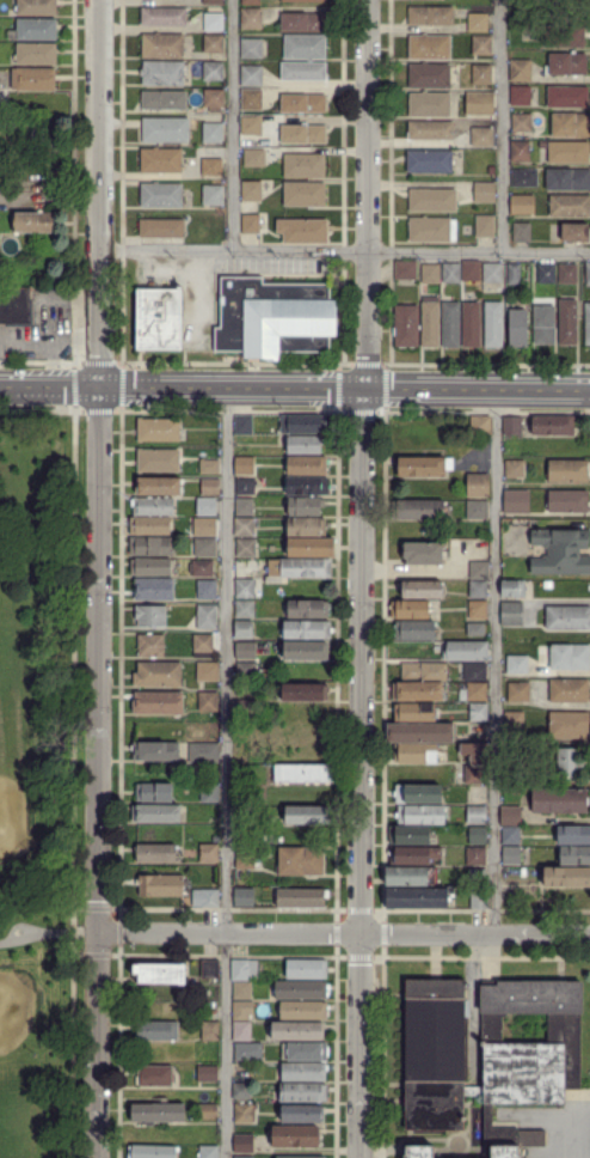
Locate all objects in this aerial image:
building: (303, 0)
building: (213, 1)
building: (251, 1)
building: (36, 7)
building: (165, 16)
building: (431, 16)
building: (251, 18)
building: (214, 22)
building: (303, 22)
building: (478, 22)
building: (35, 29)
building: (564, 36)
building: (214, 43)
building: (481, 44)
building: (162, 45)
building: (305, 47)
building: (430, 47)
building: (252, 48)
building: (36, 54)
building: (567, 62)
building: (521, 69)
building: (213, 71)
building: (303, 71)
building: (162, 72)
building: (481, 73)
building: (251, 75)
building: (429, 75)
building: (35, 78)
building: (521, 95)
building: (567, 96)
building: (214, 98)
building: (252, 98)
building: (164, 99)
building: (479, 102)
building: (305, 103)
building: (430, 104)
building: (521, 122)
building: (251, 123)
building: (571, 123)
road: (233, 124)
road: (502, 126)
building: (165, 129)
building: (431, 129)
building: (213, 132)
building: (303, 133)
building: (481, 135)
building: (521, 150)
building: (569, 151)
building: (19, 156)
building: (253, 157)
building: (161, 159)
building: (430, 160)
building: (211, 165)
building: (305, 165)
building: (492, 170)
building: (524, 177)
building: (569, 178)
building: (252, 190)
building: (484, 191)
road: (99, 193)
building: (161, 194)
building: (213, 194)
building: (305, 194)
road: (365, 194)
building: (432, 200)
building: (523, 203)
building: (570, 205)
building: (33, 221)
building: (251, 224)
building: (485, 225)
building: (162, 227)
building: (432, 228)
building: (303, 230)
building: (522, 232)
building: (576, 232)
road: (344, 250)
building: (406, 269)
building: (472, 269)
building: (430, 273)
building: (451, 273)
building: (492, 273)
building: (514, 273)
building: (547, 273)
building: (569, 273)
building: (588, 273)
building: (14, 304)
building: (274, 316)
building: (159, 318)
building: (569, 321)
building: (430, 322)
building: (545, 322)
building: (588, 323)
building: (451, 324)
building: (472, 324)
building: (494, 324)
building: (406, 325)
building: (518, 327)
road: (295, 388)
road: (37, 410)
building: (302, 423)
building: (244, 425)
building: (480, 425)
building: (512, 425)
building: (554, 425)
building: (159, 428)
building: (305, 445)
building: (244, 450)
building: (159, 461)
building: (245, 465)
building: (307, 465)
building: (209, 467)
building: (424, 467)
building: (515, 468)
building: (567, 470)
building: (159, 486)
building: (477, 486)
building: (209, 487)
building: (245, 487)
building: (307, 487)
building: (515, 500)
building: (566, 501)
building: (152, 506)
building: (207, 507)
building: (244, 507)
building: (305, 507)
building: (418, 508)
building: (478, 510)
building: (149, 525)
building: (244, 526)
building: (203, 528)
building: (306, 528)
building: (150, 547)
building: (311, 547)
building: (204, 548)
building: (245, 548)
building: (561, 551)
building: (423, 554)
building: (251, 565)
building: (150, 567)
building: (201, 568)
building: (296, 569)
building: (479, 571)
building: (546, 584)
building: (244, 589)
building: (420, 589)
building: (512, 589)
building: (153, 590)
building: (478, 590)
building: (207, 591)
building: (308, 609)
building: (408, 609)
building: (244, 610)
building: (478, 610)
building: (512, 614)
building: (149, 615)
building: (207, 617)
building: (569, 618)
building: (474, 629)
building: (244, 630)
building: (307, 630)
building: (414, 630)
building: (149, 645)
building: (203, 646)
building: (244, 647)
building: (466, 651)
building: (306, 652)
building: (570, 657)
road: (363, 660)
road: (494, 662)
building: (517, 665)
building: (208, 671)
building: (245, 671)
building: (424, 672)
building: (474, 672)
building: (158, 675)
building: (417, 690)
building: (477, 691)
building: (569, 691)
building: (244, 693)
building: (305, 693)
building: (518, 693)
building: (208, 702)
building: (158, 703)
building: (245, 712)
building: (478, 712)
building: (414, 714)
building: (512, 723)
building: (569, 725)
building: (419, 732)
building: (305, 733)
building: (155, 751)
building: (475, 752)
building: (203, 754)
building: (241, 754)
building: (416, 754)
building: (569, 762)
road: (99, 772)
road: (226, 773)
building: (303, 774)
building: (475, 774)
building: (517, 776)
park: (42, 780)
road: (73, 784)
building: (514, 790)
building: (153, 792)
building: (208, 793)
building: (417, 794)
building: (245, 796)
building: (559, 800)
building: (155, 812)
building: (420, 815)
building: (475, 815)
building: (307, 816)
building: (510, 816)
park: (12, 818)
building: (477, 835)
building: (510, 835)
building: (573, 835)
building: (408, 836)
building: (215, 839)
building: (155, 853)
building: (209, 853)
building: (413, 855)
building: (511, 855)
building: (245, 857)
building: (475, 857)
building: (573, 857)
building: (301, 861)
building: (477, 874)
building: (566, 877)
building: (410, 878)
building: (160, 884)
building: (242, 896)
building: (204, 897)
building: (418, 897)
building: (301, 898)
building: (479, 898)
road: (49, 932)
road: (344, 933)
building: (209, 969)
building: (306, 969)
building: (244, 970)
building: (159, 973)
building: (300, 989)
building: (242, 991)
park: (16, 1008)
building: (242, 1011)
building: (303, 1011)
building: (155, 1030)
building: (297, 1030)
building: (209, 1031)
building: (240, 1031)
road: (359, 1046)
building: (248, 1052)
building: (306, 1052)
building: (435, 1054)
building: (528, 1054)
building: (303, 1072)
building: (205, 1073)
building: (154, 1075)
building: (240, 1090)
building: (303, 1092)
building: (207, 1111)
building: (156, 1113)
building: (244, 1113)
building: (303, 1114)
building: (295, 1136)
building: (242, 1142)
building: (152, 1152)
building: (207, 1152)
building: (419, 1152)
building: (505, 1152)
building: (242, 1156)
building: (299, 1156)

